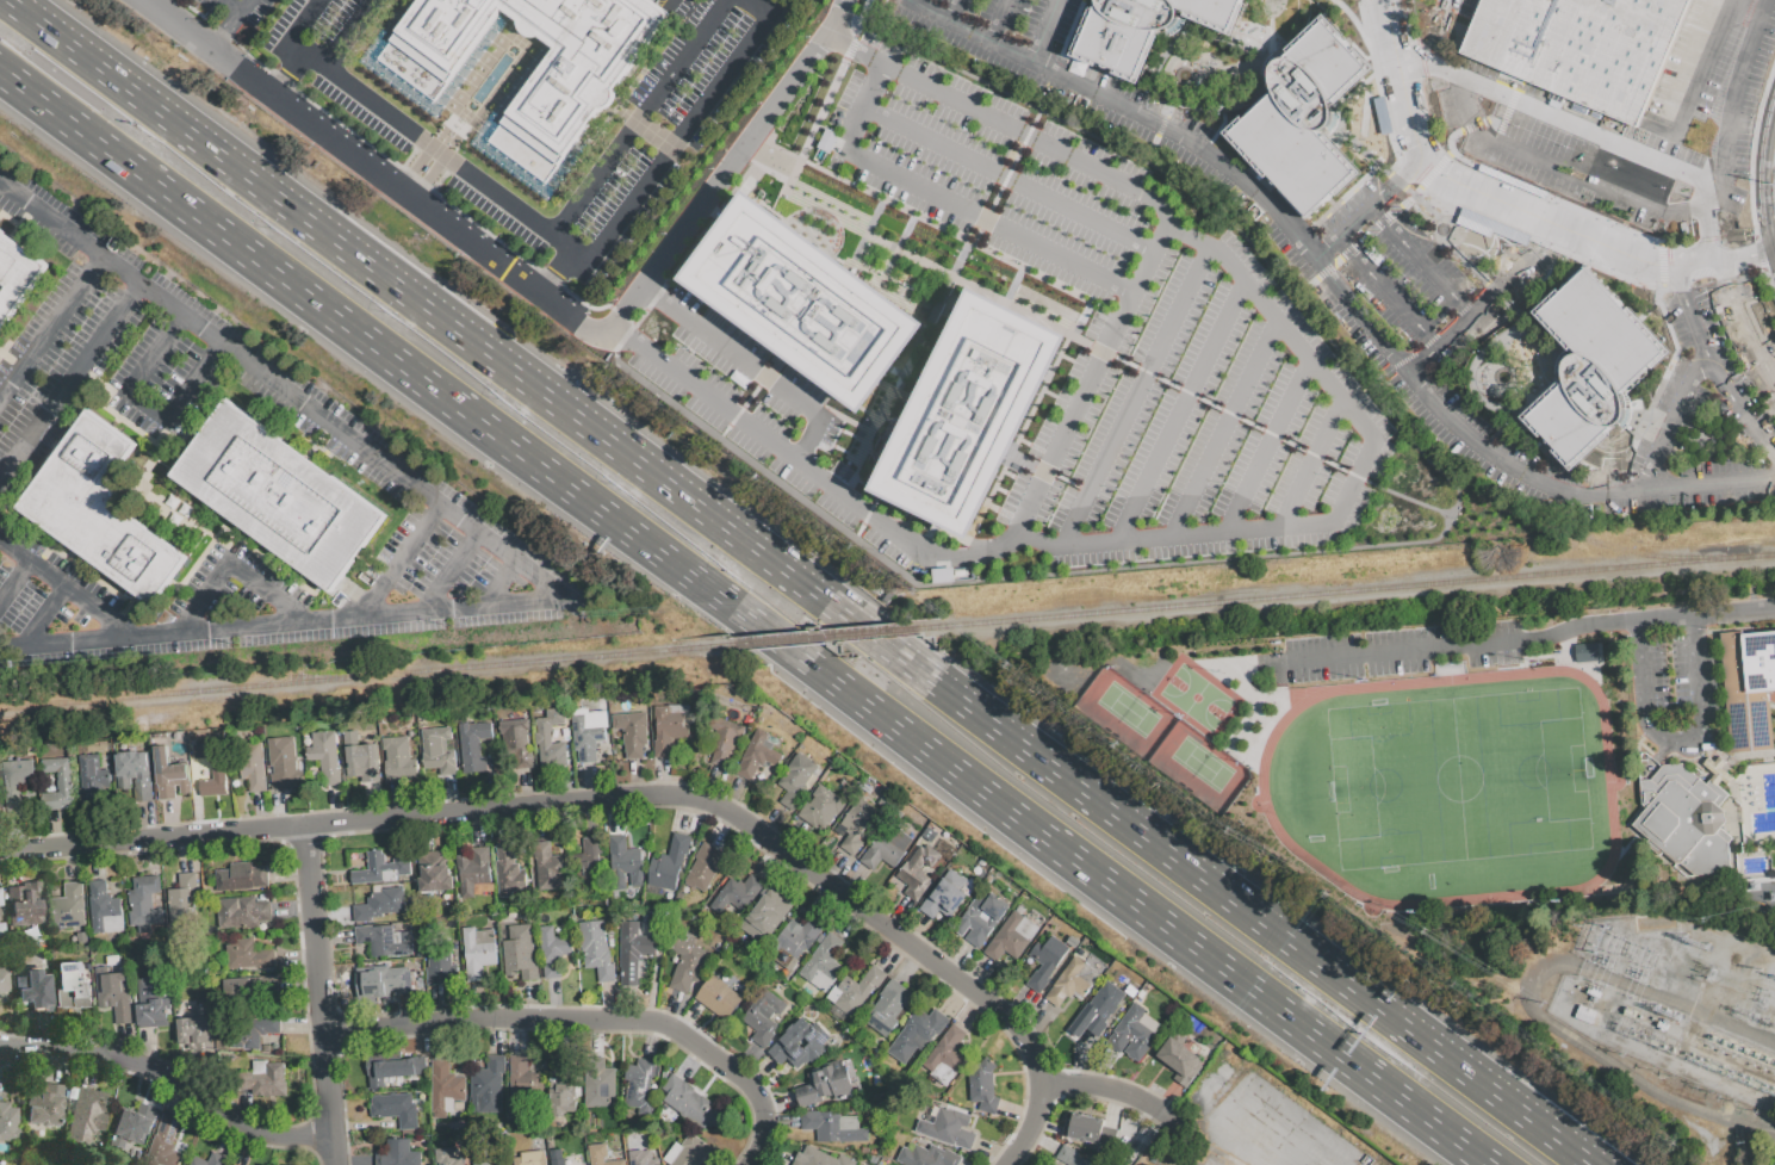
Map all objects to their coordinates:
road: (901, 0)
road: (237, 5)
parking lot: (1461, 6)
parking lot: (240, 12)
road: (956, 12)
road: (1351, 19)
road: (1001, 23)
road: (235, 26)
road: (1268, 26)
road: (302, 29)
building: (1142, 30)
road: (1045, 32)
road: (352, 33)
road: (1062, 44)
road: (211, 48)
building: (1578, 48)
road: (854, 51)
road: (316, 61)
parking lot: (339, 62)
road: (1231, 68)
building: (381, 72)
parking lot: (1063, 72)
road: (290, 74)
road: (1156, 85)
road: (1378, 87)
building: (567, 92)
road: (828, 93)
parking lot: (1507, 116)
building: (1302, 117)
road: (643, 118)
road: (1158, 131)
road: (1215, 131)
road: (1587, 131)
road: (687, 134)
parking lot: (646, 140)
building: (826, 140)
road: (451, 159)
road: (731, 163)
road: (1378, 166)
road: (403, 169)
road: (418, 169)
road: (1005, 175)
road: (1007, 178)
road: (433, 179)
road: (1750, 179)
road: (1764, 181)
power tower: (1774, 187)
road: (401, 190)
road: (1625, 198)
road: (1338, 200)
road: (1516, 207)
road: (1369, 209)
road: (1615, 222)
road: (1374, 225)
road: (905, 231)
road: (864, 233)
road: (961, 236)
road: (1541, 243)
road: (1460, 259)
road: (1421, 260)
parking lot: (1667, 260)
road: (560, 273)
building: (15, 275)
road: (1013, 284)
road: (1338, 284)
road: (1386, 290)
road: (1131, 292)
road: (1487, 299)
building: (800, 303)
road: (665, 304)
road: (565, 315)
road: (1744, 322)
road: (51, 323)
road: (627, 334)
parking lot: (1130, 337)
road: (222, 342)
road: (1116, 357)
road: (904, 365)
building: (1589, 366)
road: (1713, 366)
road: (70, 379)
road: (771, 384)
road: (1135, 395)
road: (747, 397)
road: (149, 407)
road: (1178, 409)
building: (968, 413)
road: (843, 417)
road: (1675, 422)
road: (1223, 426)
road: (1714, 436)
road: (1270, 444)
road: (1314, 461)
street lamp: (614, 483)
road: (1352, 490)
building: (278, 495)
building: (100, 509)
road: (865, 516)
railway: (1615, 546)
road: (931, 553)
road: (1248, 557)
road: (405, 563)
road: (236, 565)
street lamp: (726, 568)
road: (455, 574)
road: (796, 582)
road: (14, 583)
road: (505, 584)
railway: (1345, 589)
road: (69, 590)
road: (550, 602)
road: (49, 620)
road: (750, 620)
railway: (821, 636)
road: (182, 637)
road: (1534, 639)
parking lot: (1398, 651)
building: (1584, 651)
railway: (362, 675)
railway: (322, 676)
parking lot: (1680, 678)
building: (1748, 688)
park: (1196, 698)
park: (1128, 709)
building: (670, 729)
building: (587, 732)
building: (631, 732)
building: (550, 738)
building: (725, 740)
building: (515, 743)
road: (1677, 743)
building: (473, 745)
building: (439, 750)
building: (758, 754)
building: (325, 756)
park: (1425, 756)
building: (360, 757)
building: (398, 760)
park: (1200, 764)
building: (253, 766)
building: (212, 767)
building: (285, 768)
building: (169, 774)
road: (496, 774)
building: (92, 777)
road: (666, 777)
road: (638, 779)
street lamp: (683, 779)
park: (1459, 779)
building: (796, 780)
road: (569, 781)
road: (591, 782)
building: (58, 783)
building: (15, 785)
road: (715, 786)
building: (142, 787)
road: (527, 788)
street lamp: (499, 793)
road: (453, 795)
road: (736, 795)
road: (620, 799)
road: (398, 800)
road: (377, 803)
road: (198, 804)
road: (335, 806)
building: (821, 808)
road: (284, 811)
road: (261, 812)
road: (753, 814)
road: (617, 817)
road: (688, 817)
road: (588, 818)
building: (1684, 819)
road: (172, 820)
road: (541, 820)
road: (148, 823)
road: (416, 825)
road: (774, 825)
building: (855, 825)
road: (504, 826)
road: (480, 829)
road: (55, 830)
road: (722, 830)
road: (430, 835)
road: (19, 836)
road: (304, 838)
road: (401, 838)
road: (794, 839)
building: (888, 844)
road: (187, 854)
road: (155, 857)
building: (590, 861)
road: (95, 862)
building: (625, 862)
building: (669, 863)
road: (768, 863)
road: (74, 865)
building: (547, 866)
building: (706, 866)
road: (17, 869)
building: (380, 869)
building: (473, 870)
road: (834, 870)
building: (919, 870)
building: (507, 872)
building: (435, 873)
road: (293, 874)
building: (241, 878)
road: (790, 879)
road: (856, 885)
building: (734, 894)
building: (944, 896)
building: (185, 899)
building: (143, 903)
building: (381, 905)
building: (26, 906)
building: (68, 906)
road: (827, 906)
building: (104, 907)
road: (296, 909)
building: (243, 911)
building: (765, 915)
road: (335, 916)
building: (2, 917)
building: (980, 917)
road: (899, 918)
power tower: (1717, 919)
street lamp: (904, 922)
road: (849, 923)
road: (916, 931)
building: (797, 936)
building: (1010, 936)
road: (335, 937)
building: (385, 941)
building: (1075, 941)
building: (596, 949)
building: (552, 950)
building: (477, 952)
building: (632, 952)
building: (520, 953)
building: (244, 954)
building: (440, 956)
road: (893, 956)
road: (298, 958)
building: (823, 959)
road: (960, 960)
building: (1045, 962)
building: (687, 965)
road: (913, 965)
road: (980, 973)
building: (70, 979)
building: (385, 979)
building: (1072, 980)
building: (5, 981)
road: (300, 984)
road: (302, 985)
building: (35, 989)
building: (252, 990)
building: (855, 992)
building: (113, 993)
road: (322, 996)
building: (718, 997)
road: (554, 999)
road: (955, 999)
road: (479, 1000)
road: (532, 1000)
power substation: (1676, 1000)
building: (150, 1002)
road: (440, 1003)
road: (612, 1003)
building: (889, 1008)
road: (1024, 1008)
road: (406, 1009)
building: (1103, 1009)
road: (674, 1012)
road: (973, 1012)
building: (763, 1016)
road: (690, 1020)
road: (592, 1022)
road: (304, 1027)
road: (1038, 1027)
building: (252, 1029)
road: (77, 1030)
road: (529, 1030)
road: (49, 1031)
road: (342, 1031)
building: (196, 1033)
building: (1134, 1033)
building: (917, 1034)
road: (496, 1037)
road: (519, 1037)
road: (572, 1039)
road: (651, 1039)
road: (422, 1040)
road: (443, 1041)
road: (130, 1043)
building: (800, 1043)
road: (153, 1049)
building: (948, 1049)
street lamp: (1047, 1053)
road: (1075, 1059)
building: (1179, 1060)
road: (694, 1061)
road: (746, 1064)
road: (1613, 1065)
road: (58, 1067)
building: (393, 1067)
road: (1103, 1068)
road: (97, 1071)
road: (762, 1074)
road: (172, 1077)
building: (261, 1079)
building: (523, 1082)
building: (598, 1082)
building: (825, 1084)
building: (488, 1085)
building: (640, 1085)
building: (982, 1086)
building: (566, 1087)
building: (445, 1089)
road: (156, 1090)
road: (1110, 1091)
road: (1069, 1093)
road: (176, 1096)
road: (1172, 1099)
building: (691, 1103)
road: (780, 1104)
building: (45, 1105)
road: (1111, 1107)
building: (396, 1109)
road: (247, 1113)
street lamp: (776, 1113)
road: (1018, 1114)
building: (87, 1116)
road: (782, 1122)
building: (8, 1123)
road: (354, 1124)
building: (833, 1126)
building: (947, 1127)
building: (132, 1128)
building: (1086, 1128)
road: (311, 1133)
road: (229, 1138)
road: (1043, 1141)
building: (163, 1142)
road: (272, 1145)
road: (246, 1147)
road: (994, 1151)
building: (687, 1152)
building: (397, 1153)
road: (775, 1154)
building: (479, 1155)
building: (601, 1155)
building: (927, 1155)
building: (446, 1157)
building: (1070, 1157)
building: (530, 1158)
building: (641, 1158)
building: (821, 1158)
building: (209, 1160)
building: (1184, 1161)
building: (559, 1163)
building: (1770, 1163)
building: (230, 1164)
road: (354, 1164)
road: (752, 1164)

